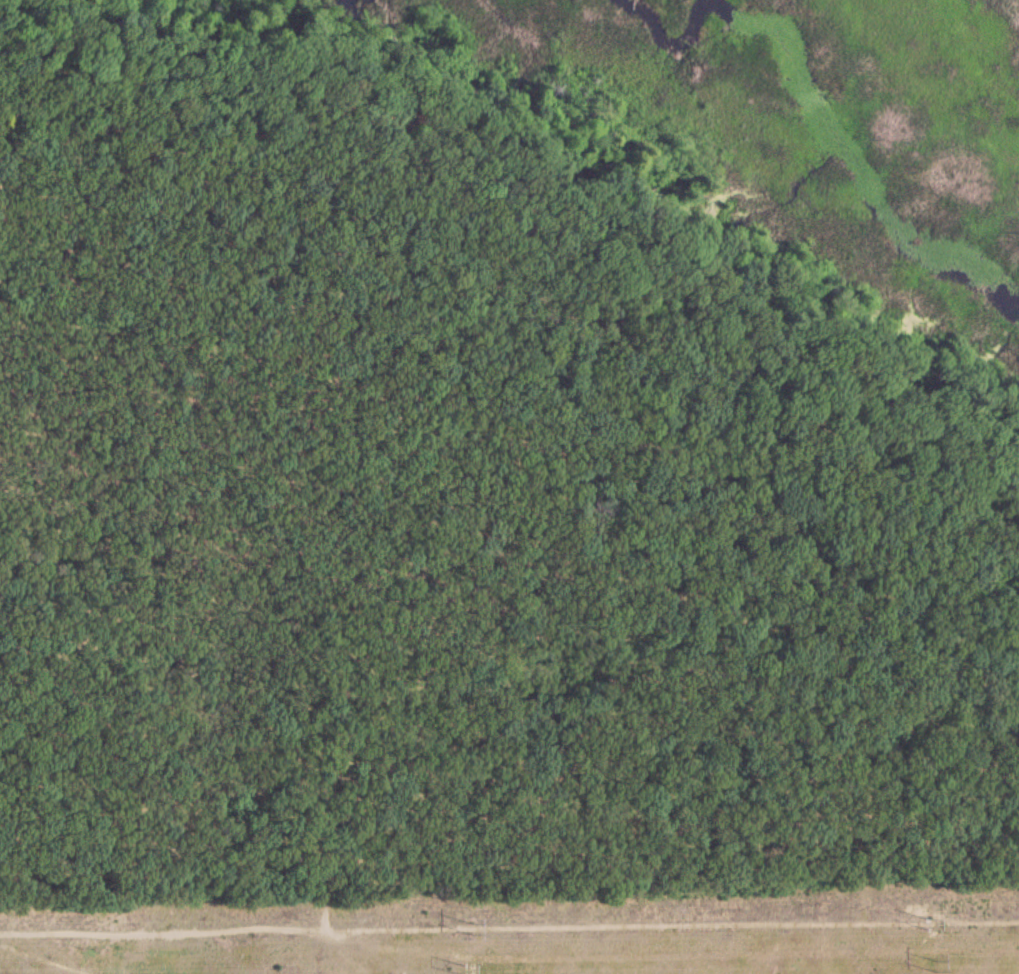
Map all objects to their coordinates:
power tower: (930, 922)
power tower: (468, 927)
power tower: (932, 966)
power tower: (470, 971)

